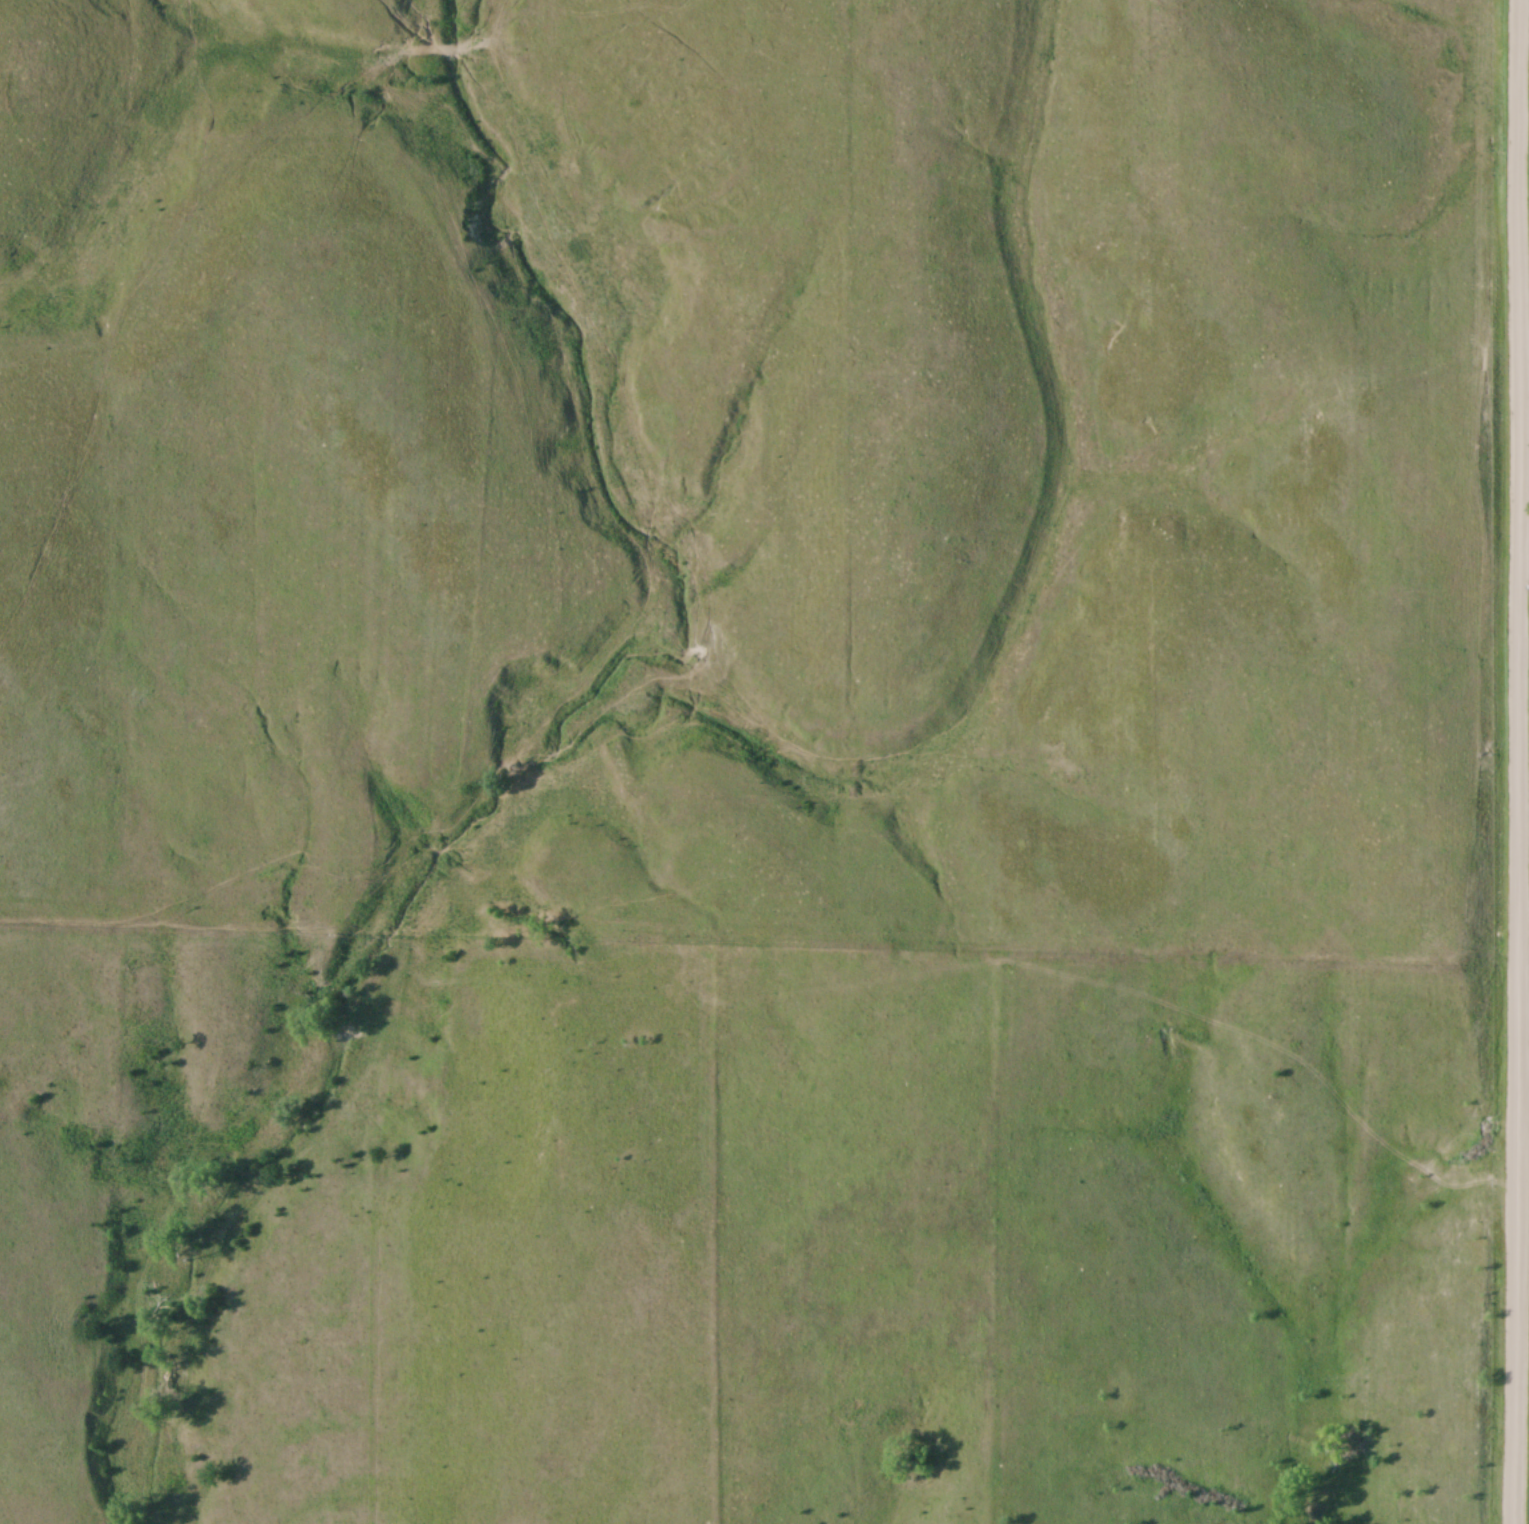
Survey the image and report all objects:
road: (1520, 762)
road: (1524, 957)

